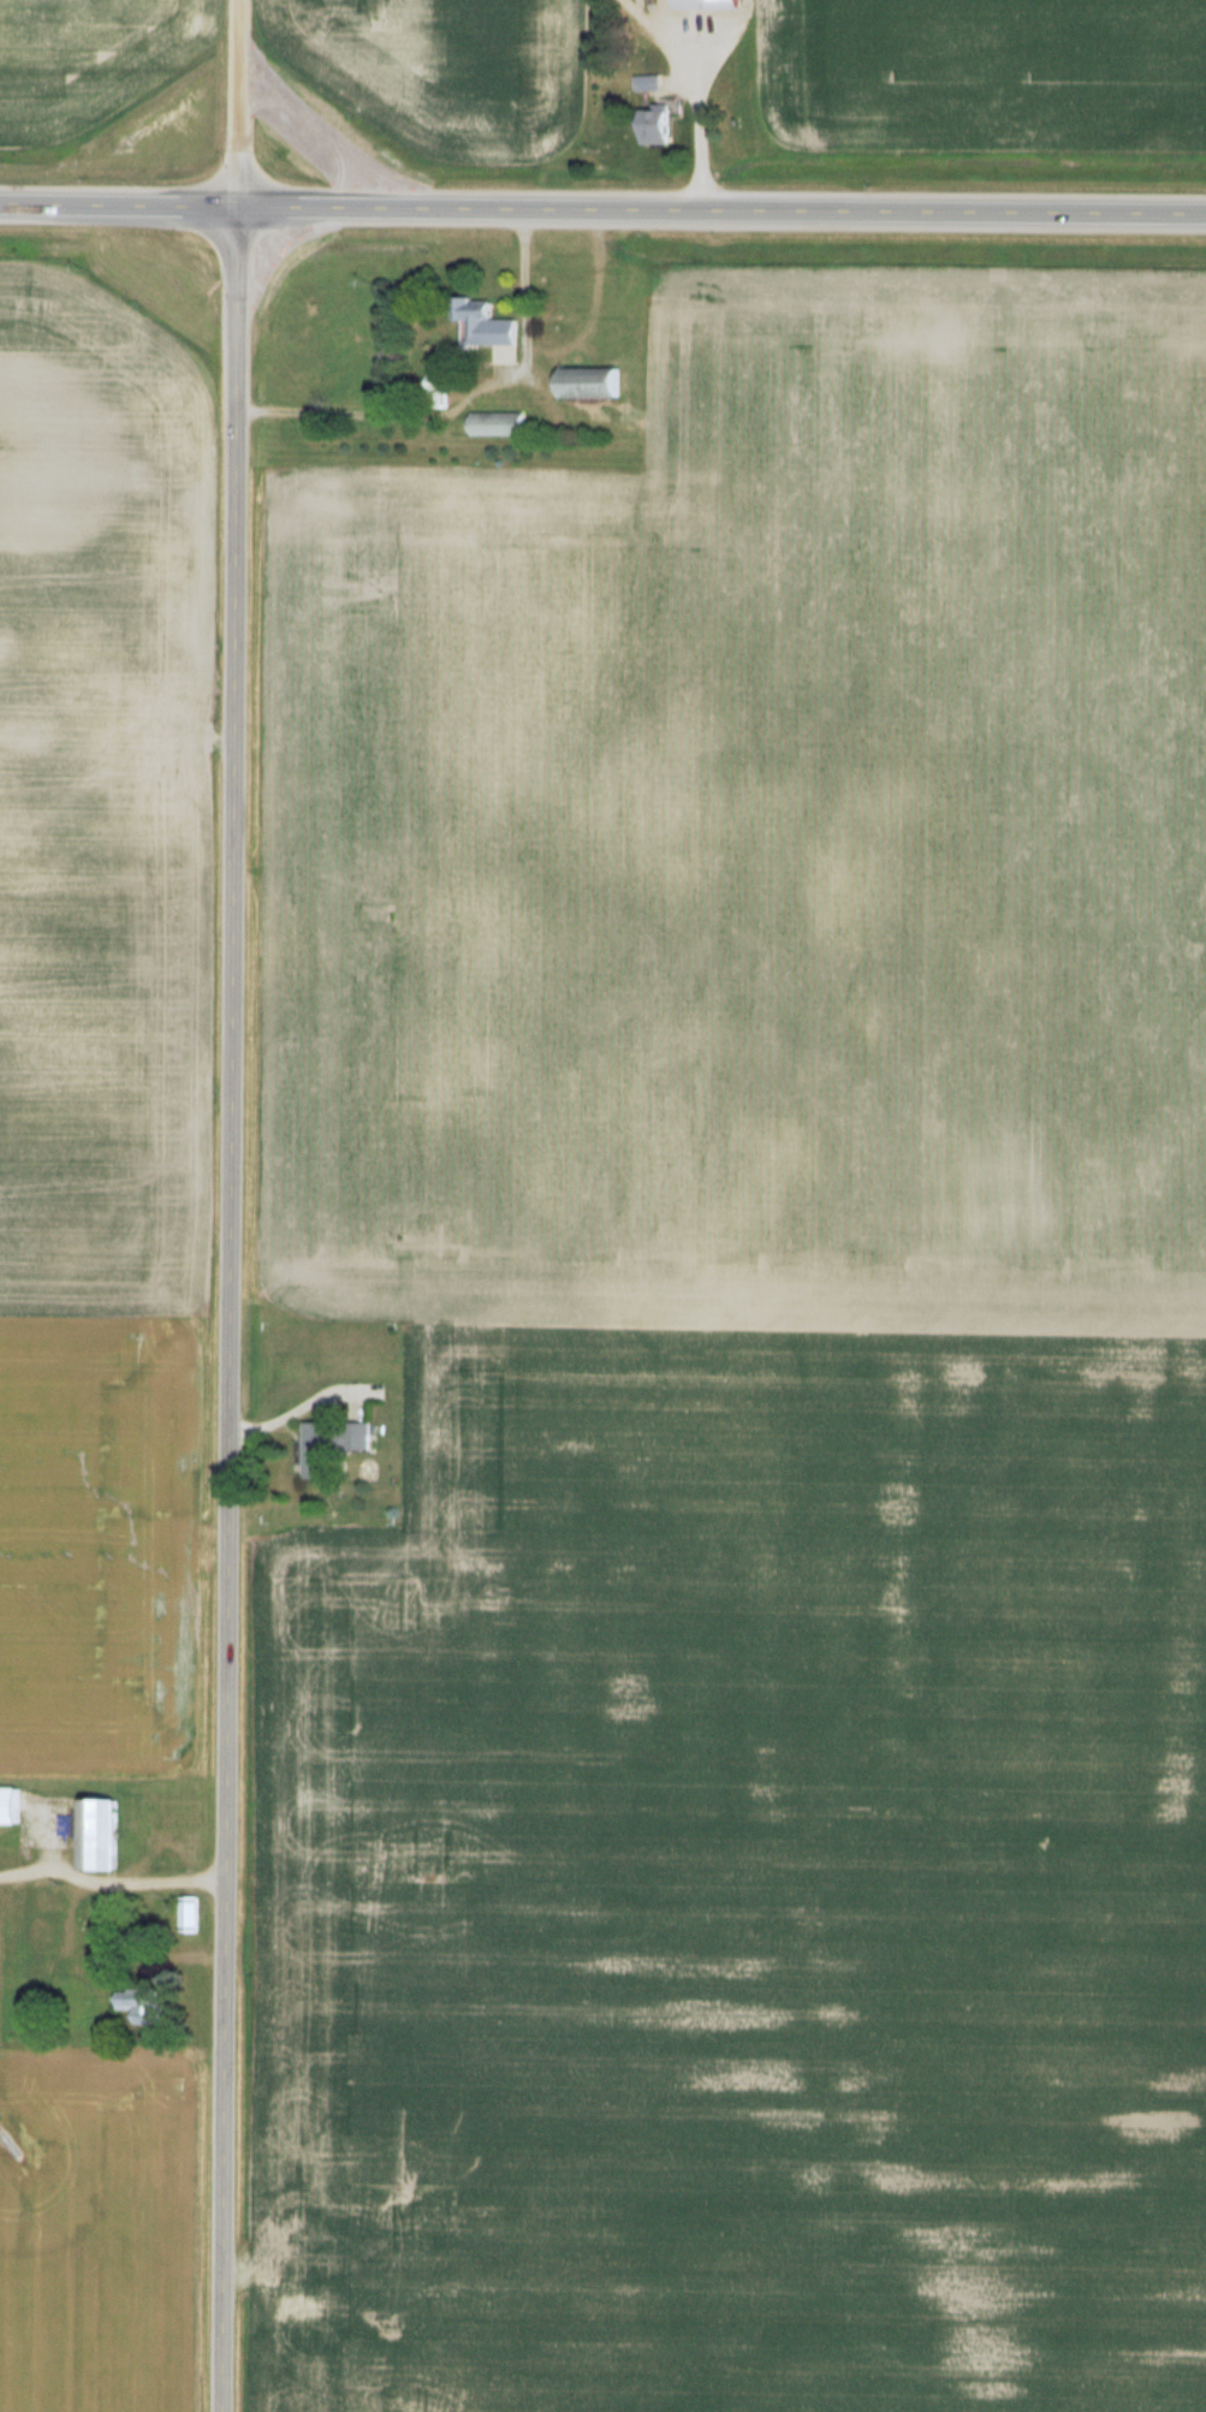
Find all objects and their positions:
building: (702, 4)
road: (658, 37)
road: (727, 40)
road: (231, 105)
building: (653, 125)
road: (699, 143)
road: (602, 212)
building: (482, 321)
building: (586, 381)
building: (435, 391)
road: (457, 404)
building: (495, 422)
road: (226, 1311)
road: (293, 1409)
building: (328, 1443)
building: (5, 1802)
building: (96, 1830)
building: (6, 1853)
road: (109, 1878)
building: (188, 1912)
building: (37, 1927)
building: (101, 1954)
building: (25, 1964)
building: (63, 1966)
building: (141, 2001)

